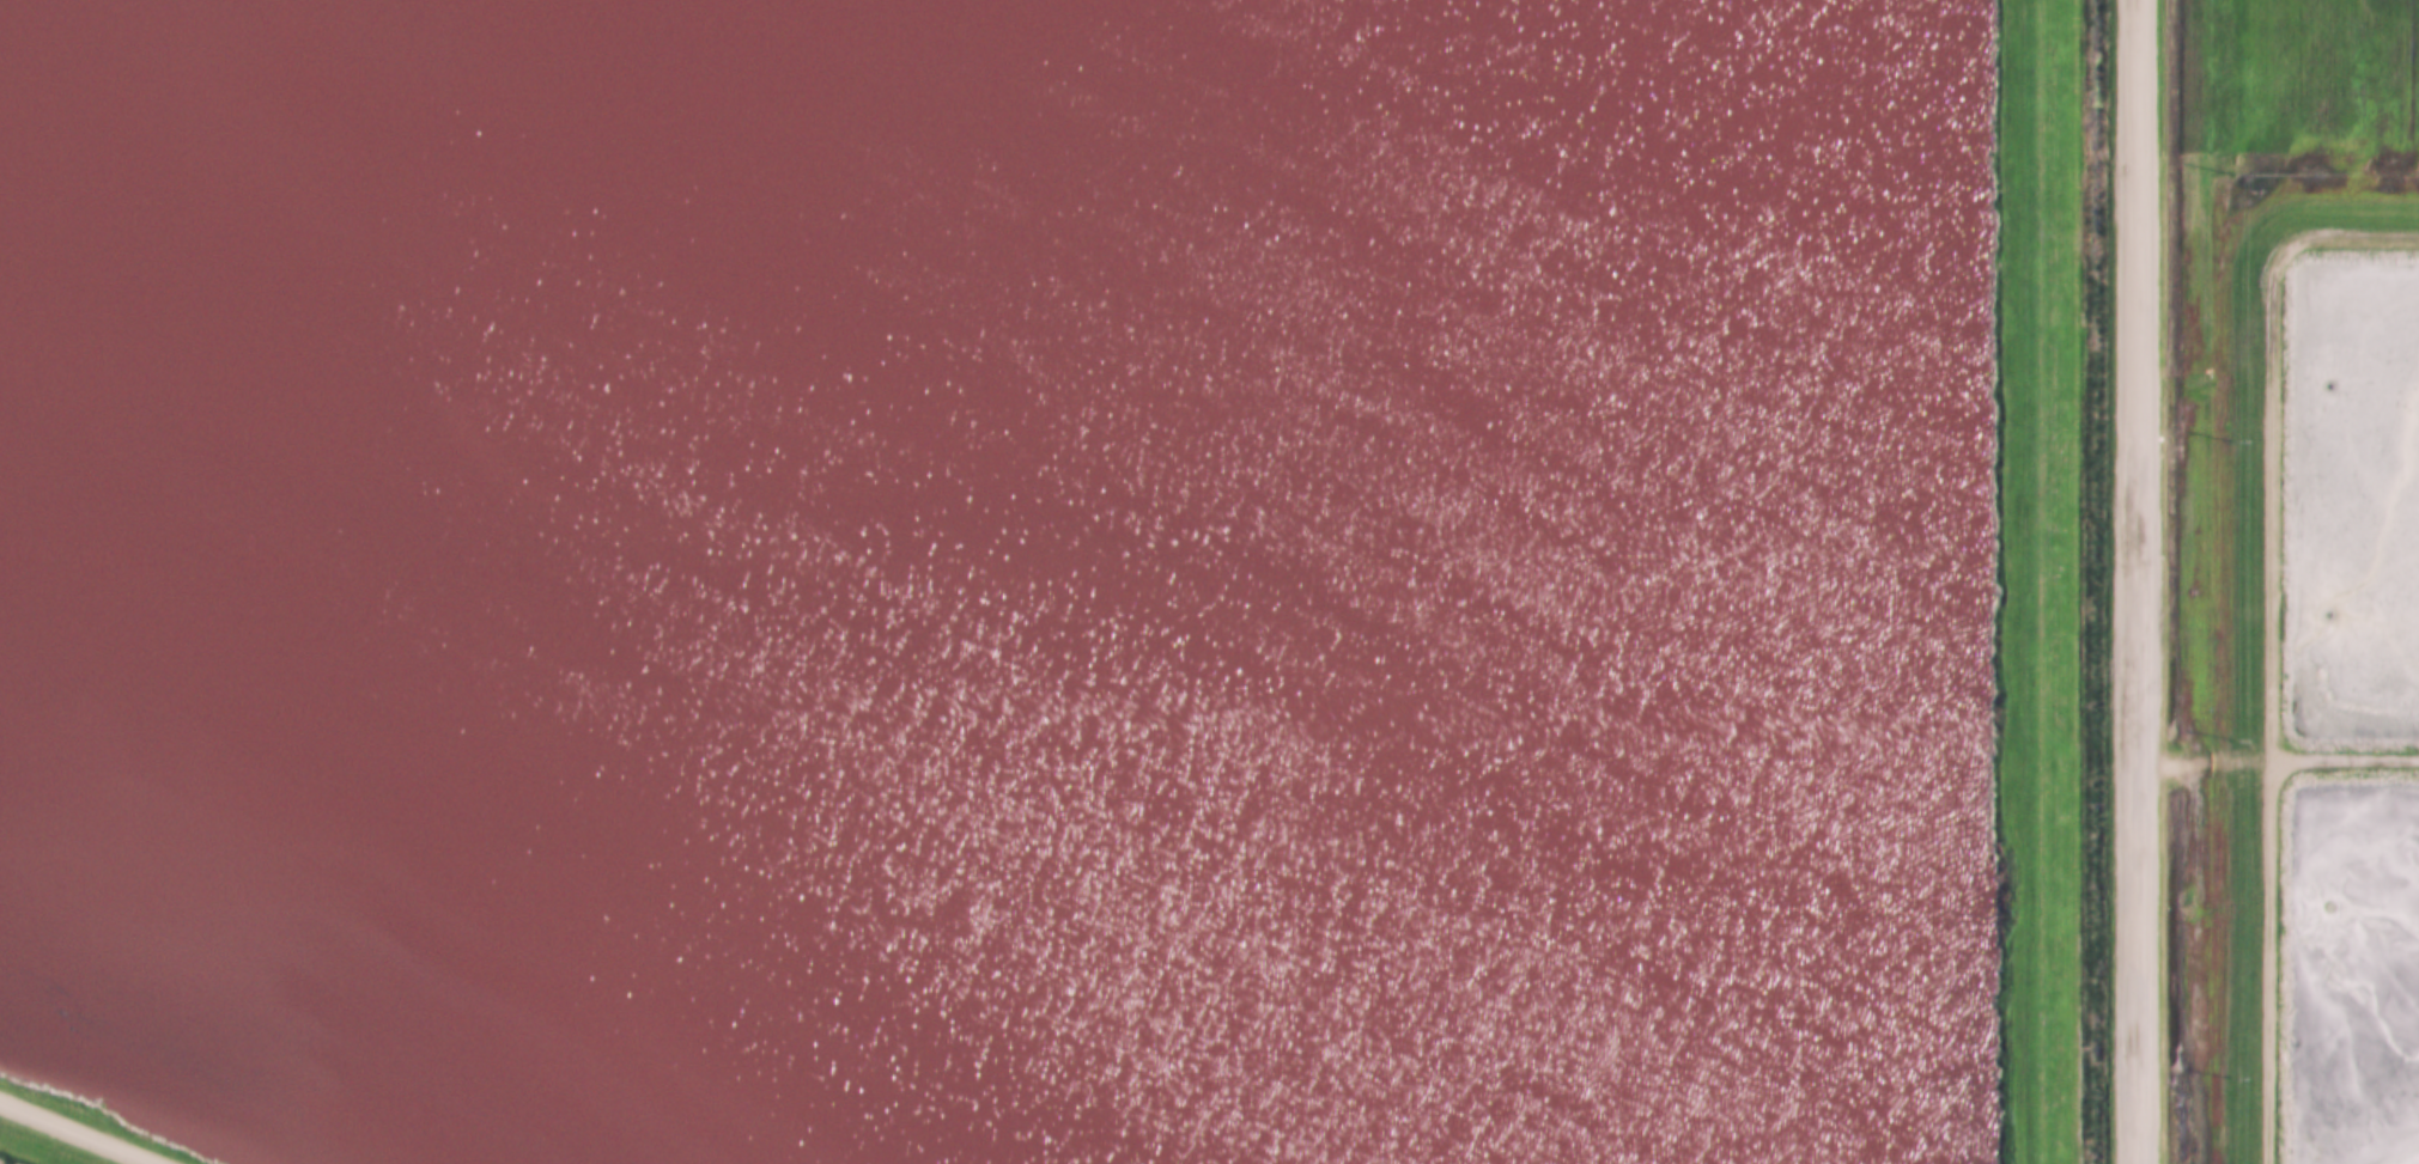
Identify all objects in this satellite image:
road: (2134, 581)
road: (75, 1134)

